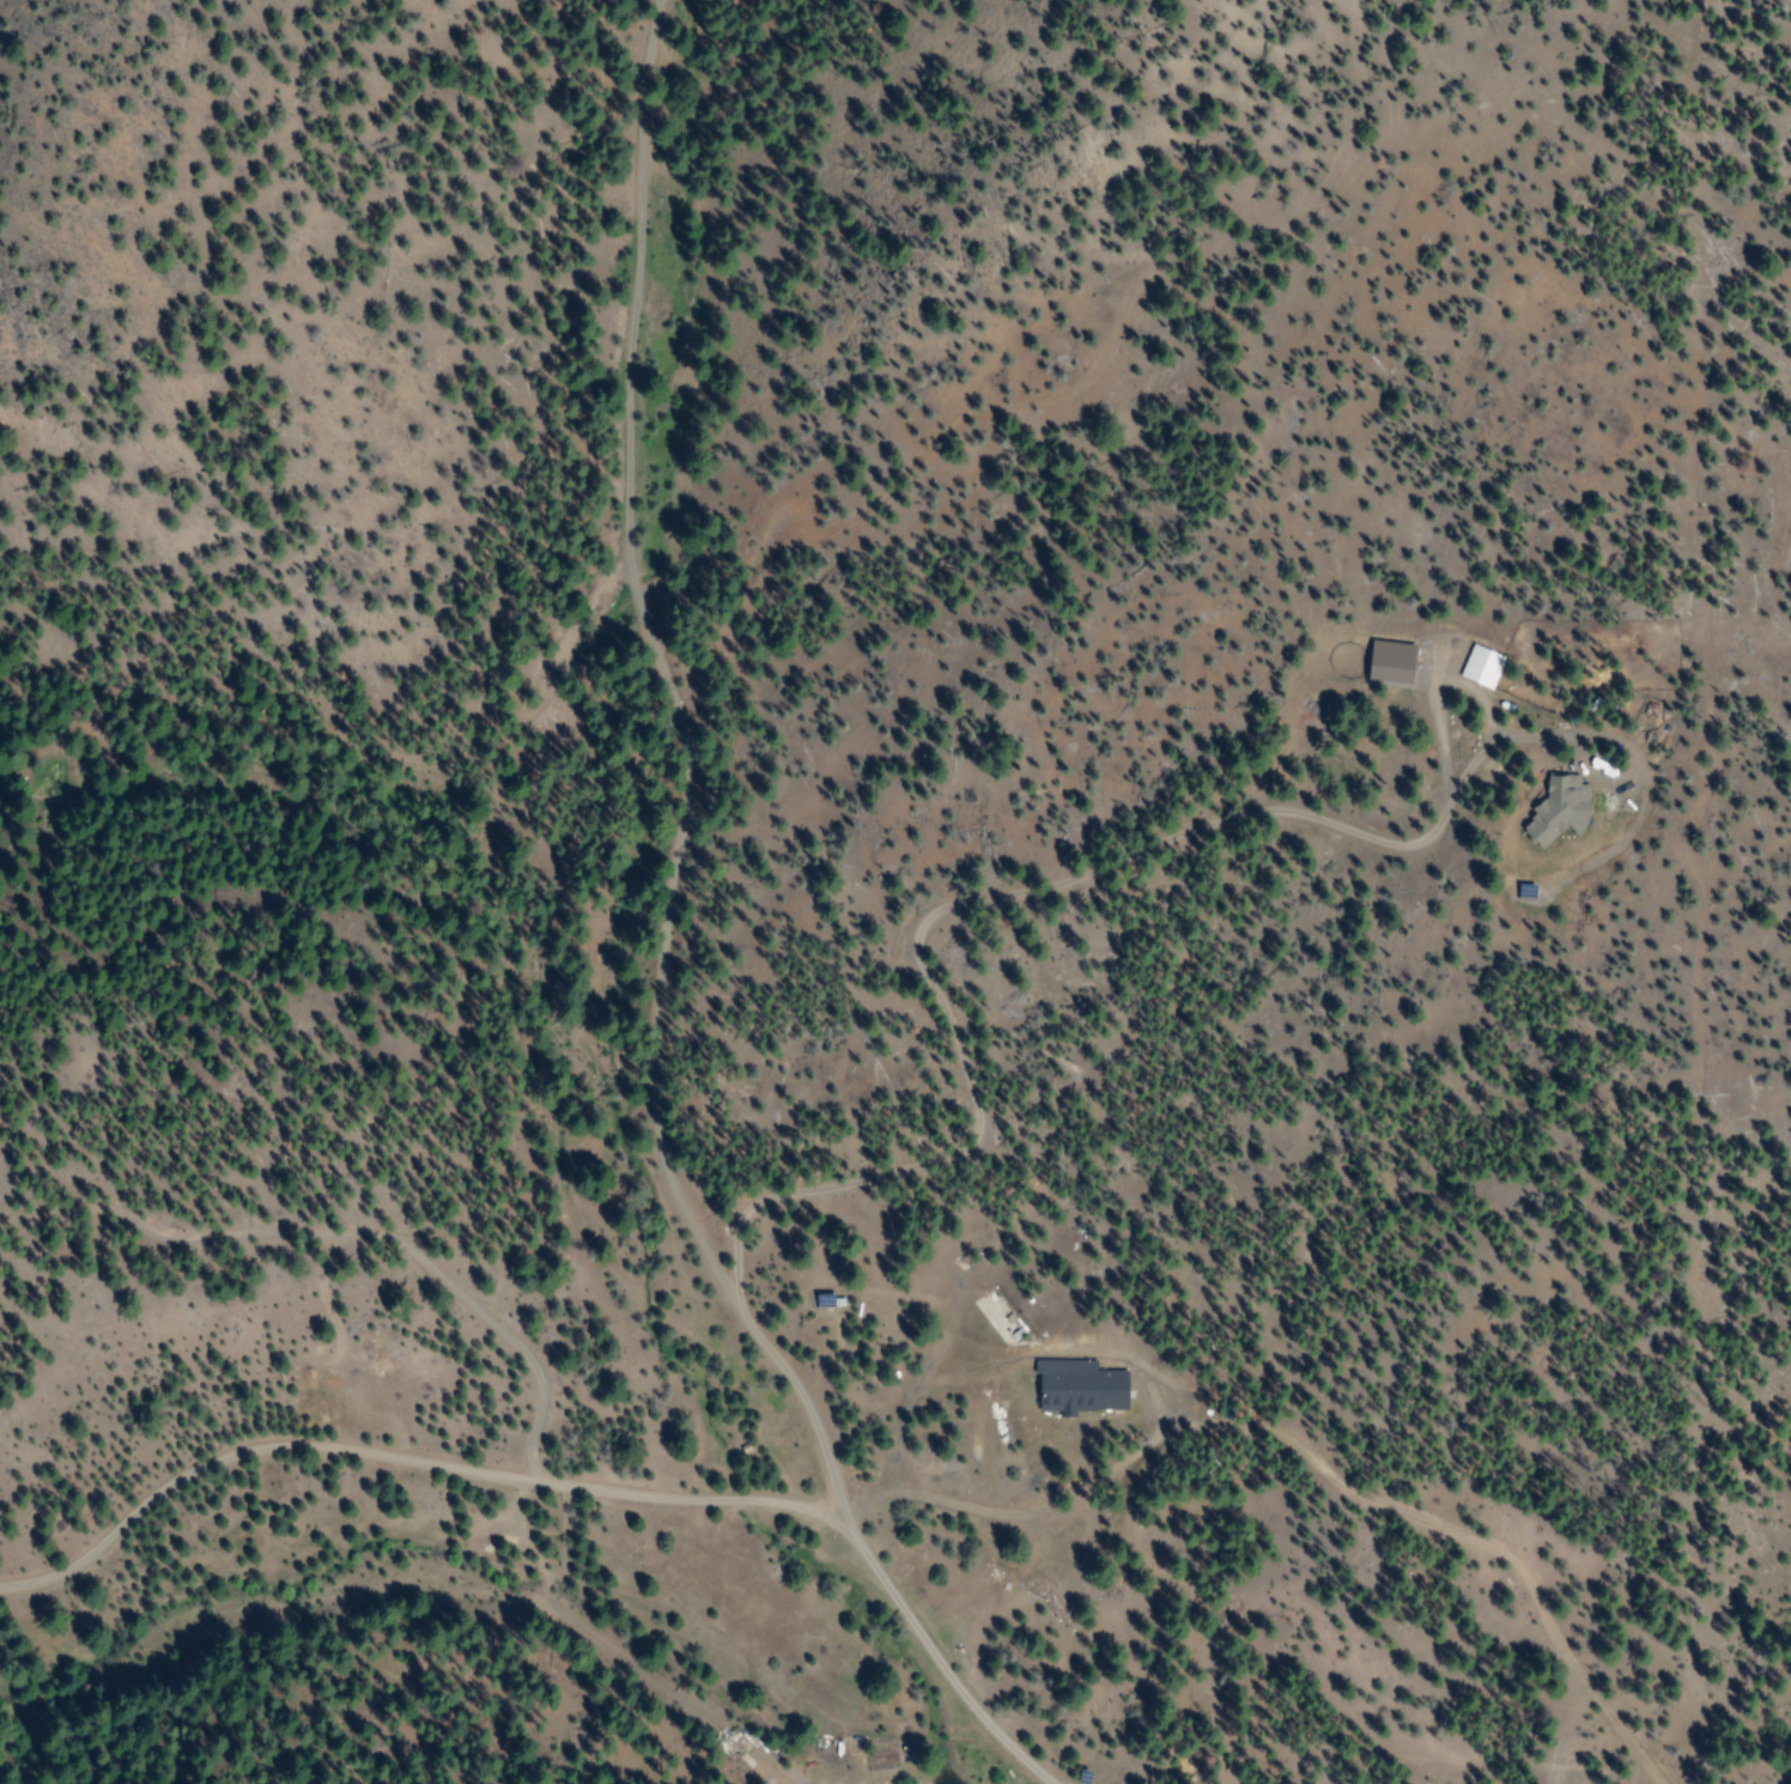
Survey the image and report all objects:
building: (1579, 716)
road: (686, 744)
building: (826, 1300)
building: (1080, 1386)
road: (577, 1488)

